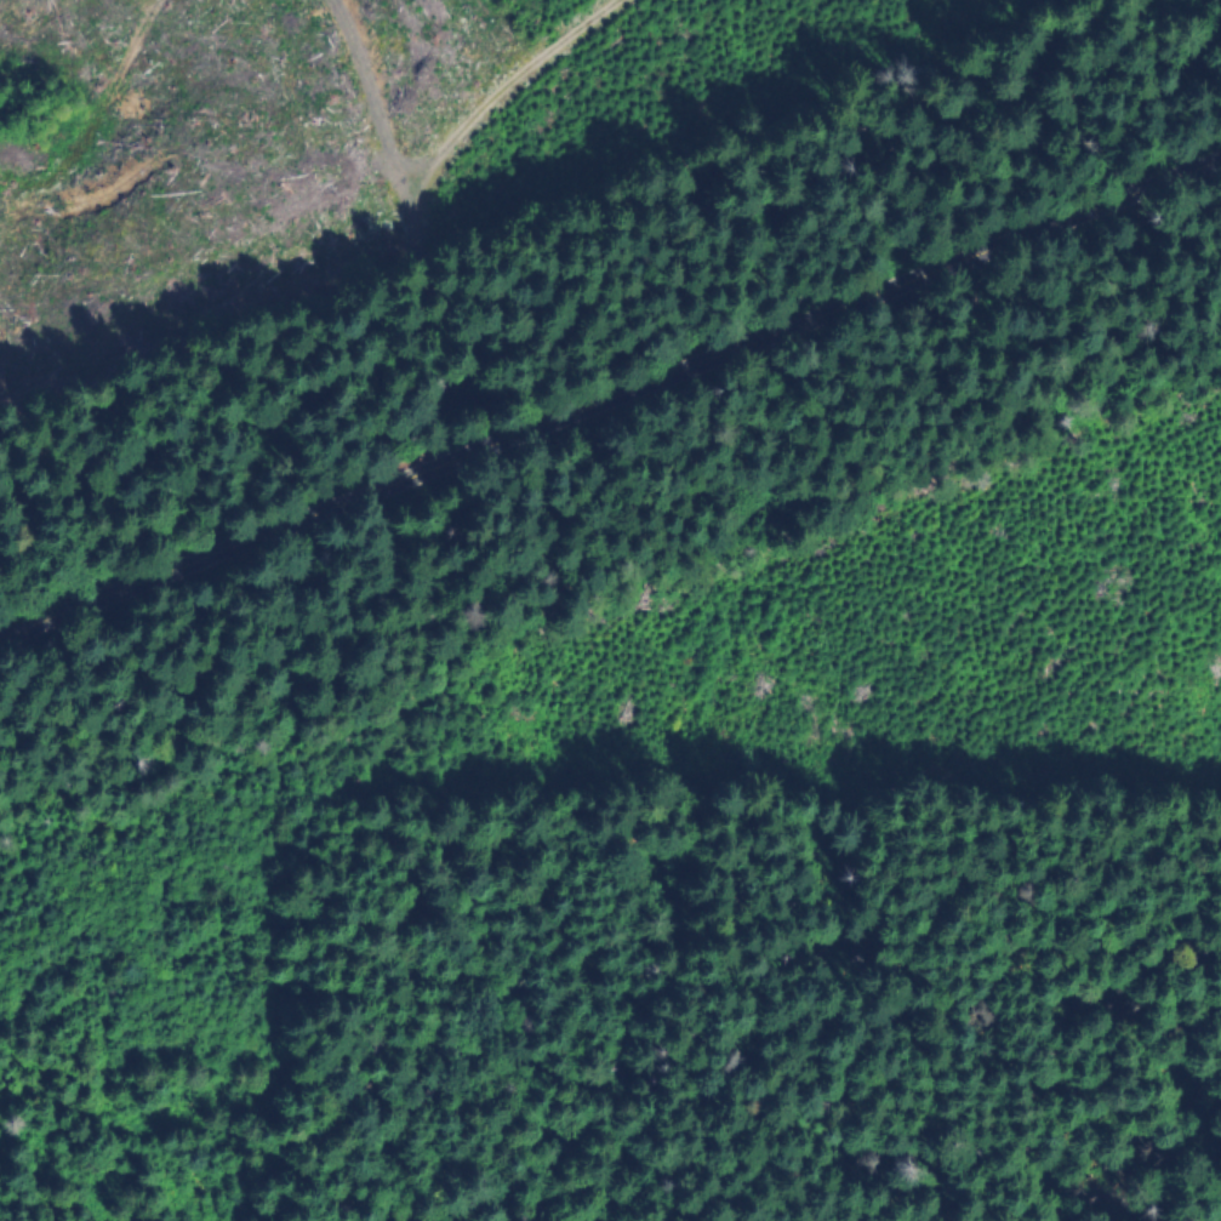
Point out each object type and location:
road: (371, 89)
road: (405, 199)
road: (607, 395)

